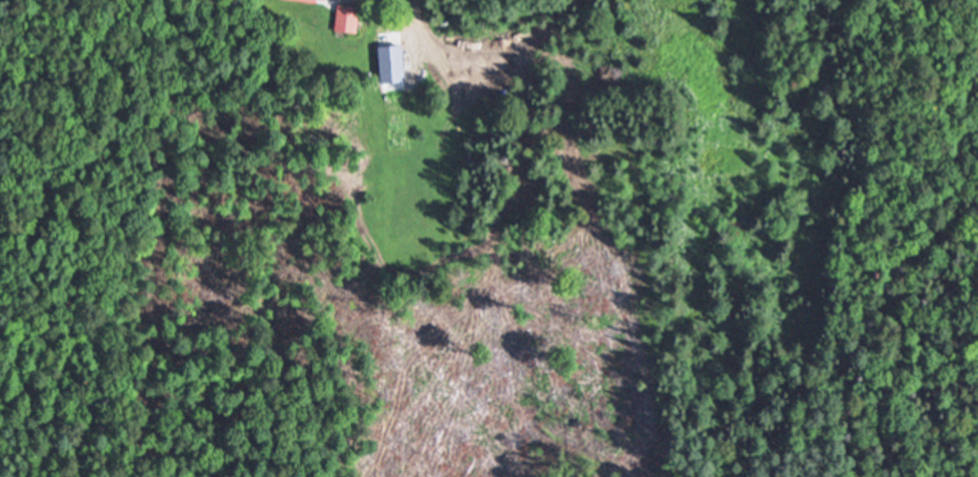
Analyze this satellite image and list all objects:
building: (316, 0)
building: (349, 18)

